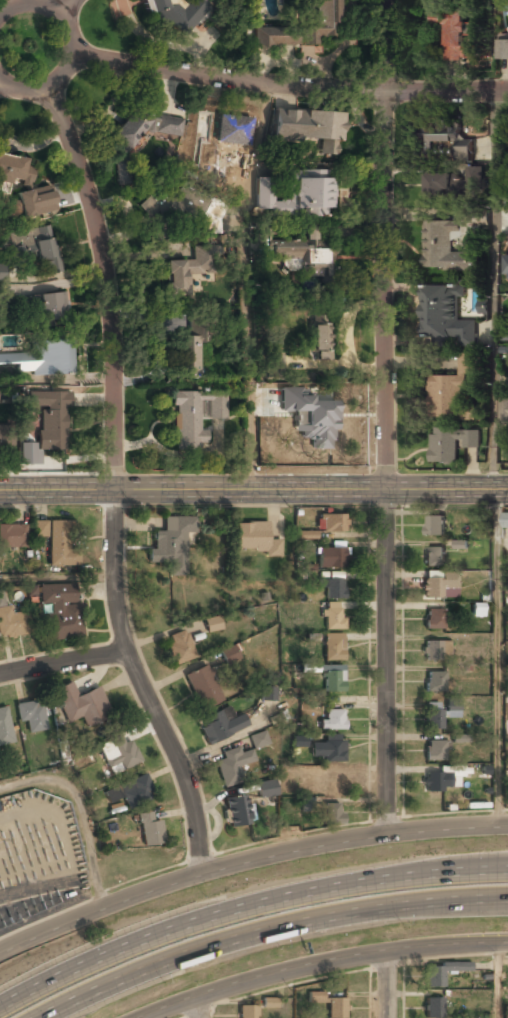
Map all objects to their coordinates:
road: (12, 3)
road: (68, 8)
building: (174, 12)
building: (301, 28)
building: (453, 32)
road: (496, 44)
building: (503, 45)
road: (74, 47)
building: (475, 49)
road: (289, 86)
building: (145, 125)
building: (309, 128)
building: (224, 134)
building: (445, 137)
building: (15, 169)
building: (121, 171)
building: (457, 180)
building: (294, 194)
building: (35, 200)
building: (166, 206)
building: (442, 247)
building: (35, 248)
building: (306, 254)
building: (505, 265)
building: (184, 273)
road: (253, 285)
road: (496, 286)
building: (47, 308)
building: (446, 315)
building: (504, 333)
building: (321, 338)
building: (189, 353)
building: (40, 361)
building: (275, 365)
building: (451, 390)
building: (503, 410)
road: (386, 417)
building: (48, 418)
building: (193, 418)
building: (328, 426)
building: (6, 436)
building: (451, 443)
road: (115, 483)
road: (254, 487)
building: (505, 521)
building: (332, 523)
building: (435, 526)
building: (12, 536)
building: (254, 540)
building: (57, 543)
building: (171, 545)
building: (434, 557)
building: (331, 558)
road: (58, 577)
building: (440, 585)
building: (333, 589)
building: (61, 612)
building: (332, 616)
building: (435, 619)
building: (12, 624)
building: (212, 625)
building: (178, 648)
building: (333, 648)
building: (435, 651)
building: (229, 655)
road: (496, 656)
road: (62, 660)
building: (332, 678)
building: (435, 682)
building: (203, 687)
building: (268, 693)
building: (80, 705)
building: (31, 716)
building: (432, 719)
building: (332, 720)
building: (506, 726)
building: (220, 727)
building: (4, 729)
building: (460, 738)
building: (259, 739)
building: (299, 740)
building: (328, 749)
building: (436, 751)
building: (118, 755)
building: (229, 766)
building: (325, 777)
building: (436, 782)
building: (267, 790)
building: (130, 792)
road: (82, 810)
building: (237, 812)
building: (333, 813)
building: (150, 831)
road: (247, 862)
road: (502, 867)
road: (497, 900)
road: (246, 906)
road: (264, 931)
road: (320, 962)
building: (442, 973)
road: (499, 980)
road: (387, 984)
building: (316, 999)
building: (269, 1002)
road: (199, 1007)
building: (336, 1008)
building: (433, 1008)
building: (247, 1012)
building: (505, 1012)

